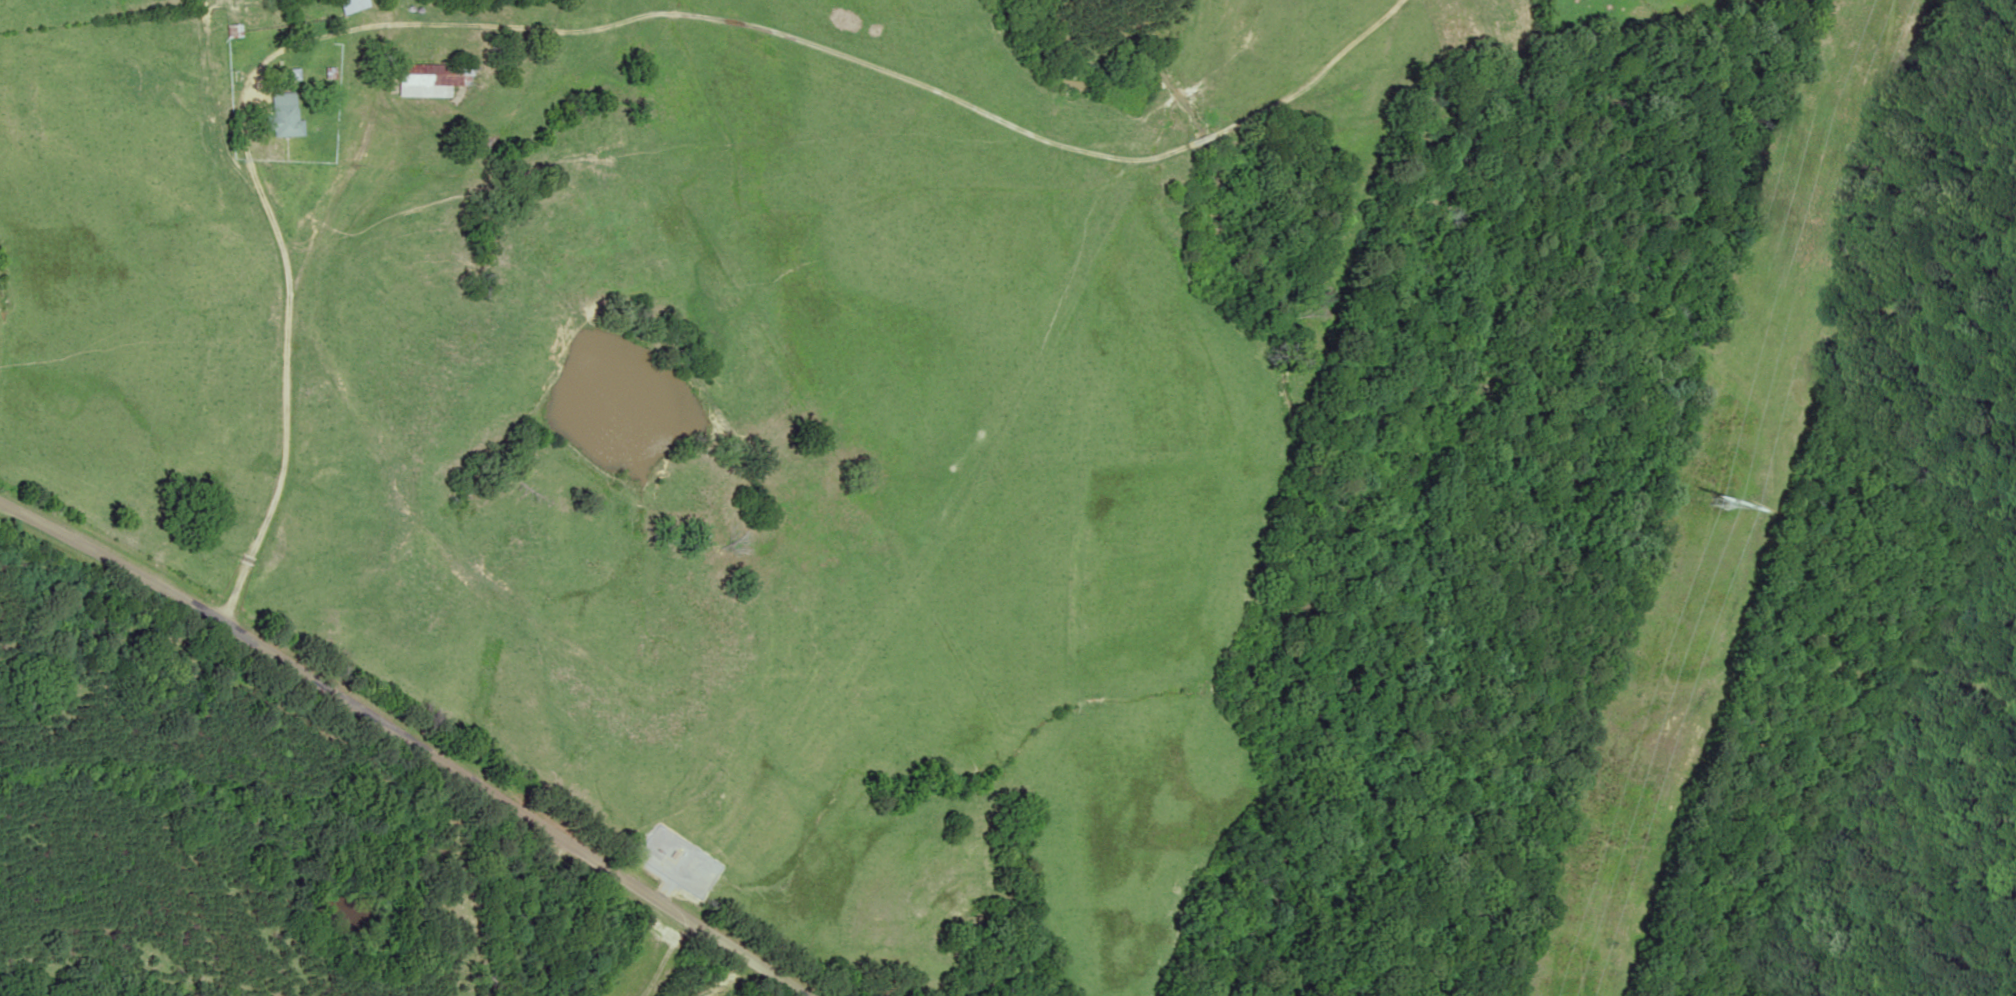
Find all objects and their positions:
building: (352, 5)
building: (434, 79)
building: (283, 115)
road: (297, 386)
power tower: (1711, 491)
road: (271, 647)
road: (522, 902)
road: (669, 907)

